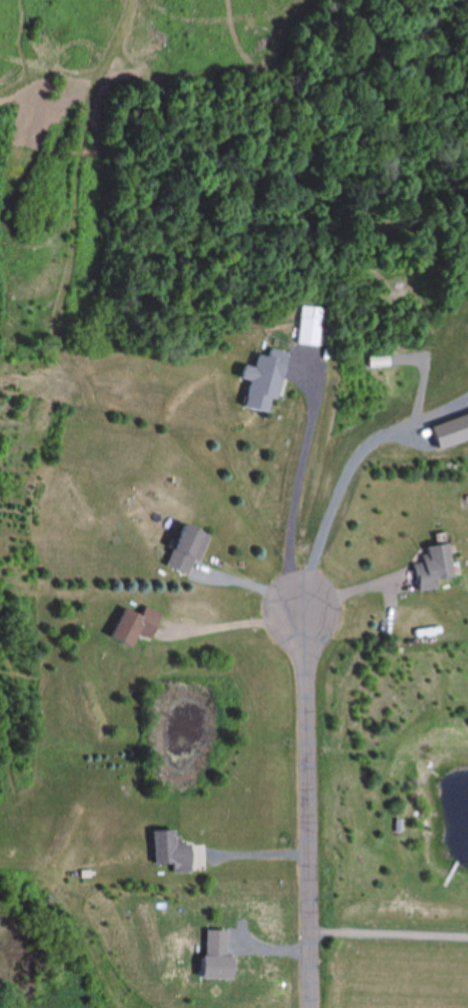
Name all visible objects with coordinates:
building: (308, 328)
building: (264, 383)
building: (186, 551)
building: (433, 566)
building: (134, 627)
road: (308, 805)
building: (170, 852)

